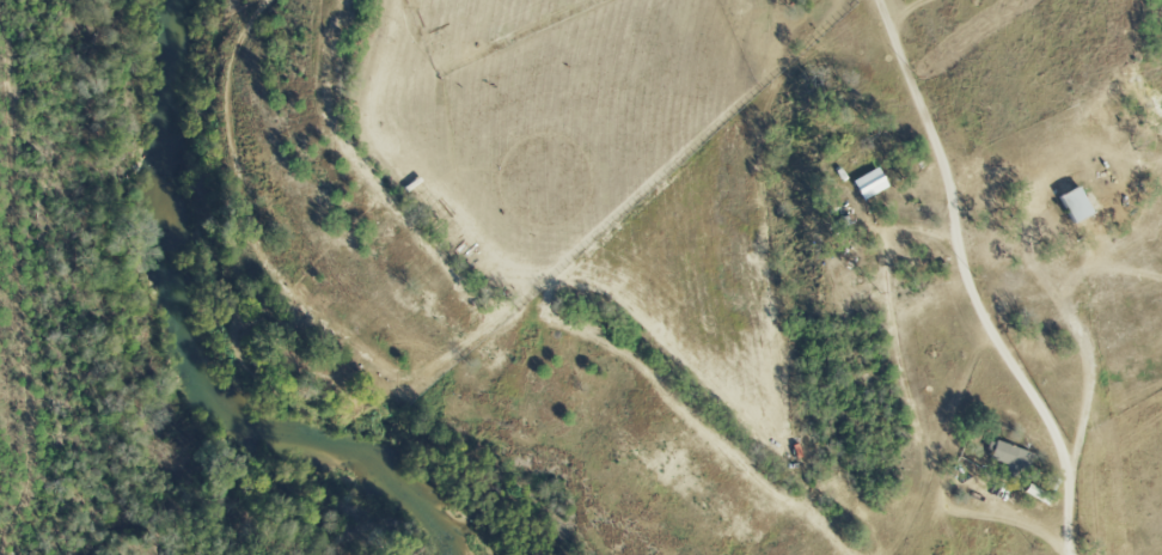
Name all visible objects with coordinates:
road: (931, 121)
building: (868, 183)
building: (1072, 203)
road: (947, 244)
river: (194, 359)
building: (1007, 461)
road: (948, 529)

